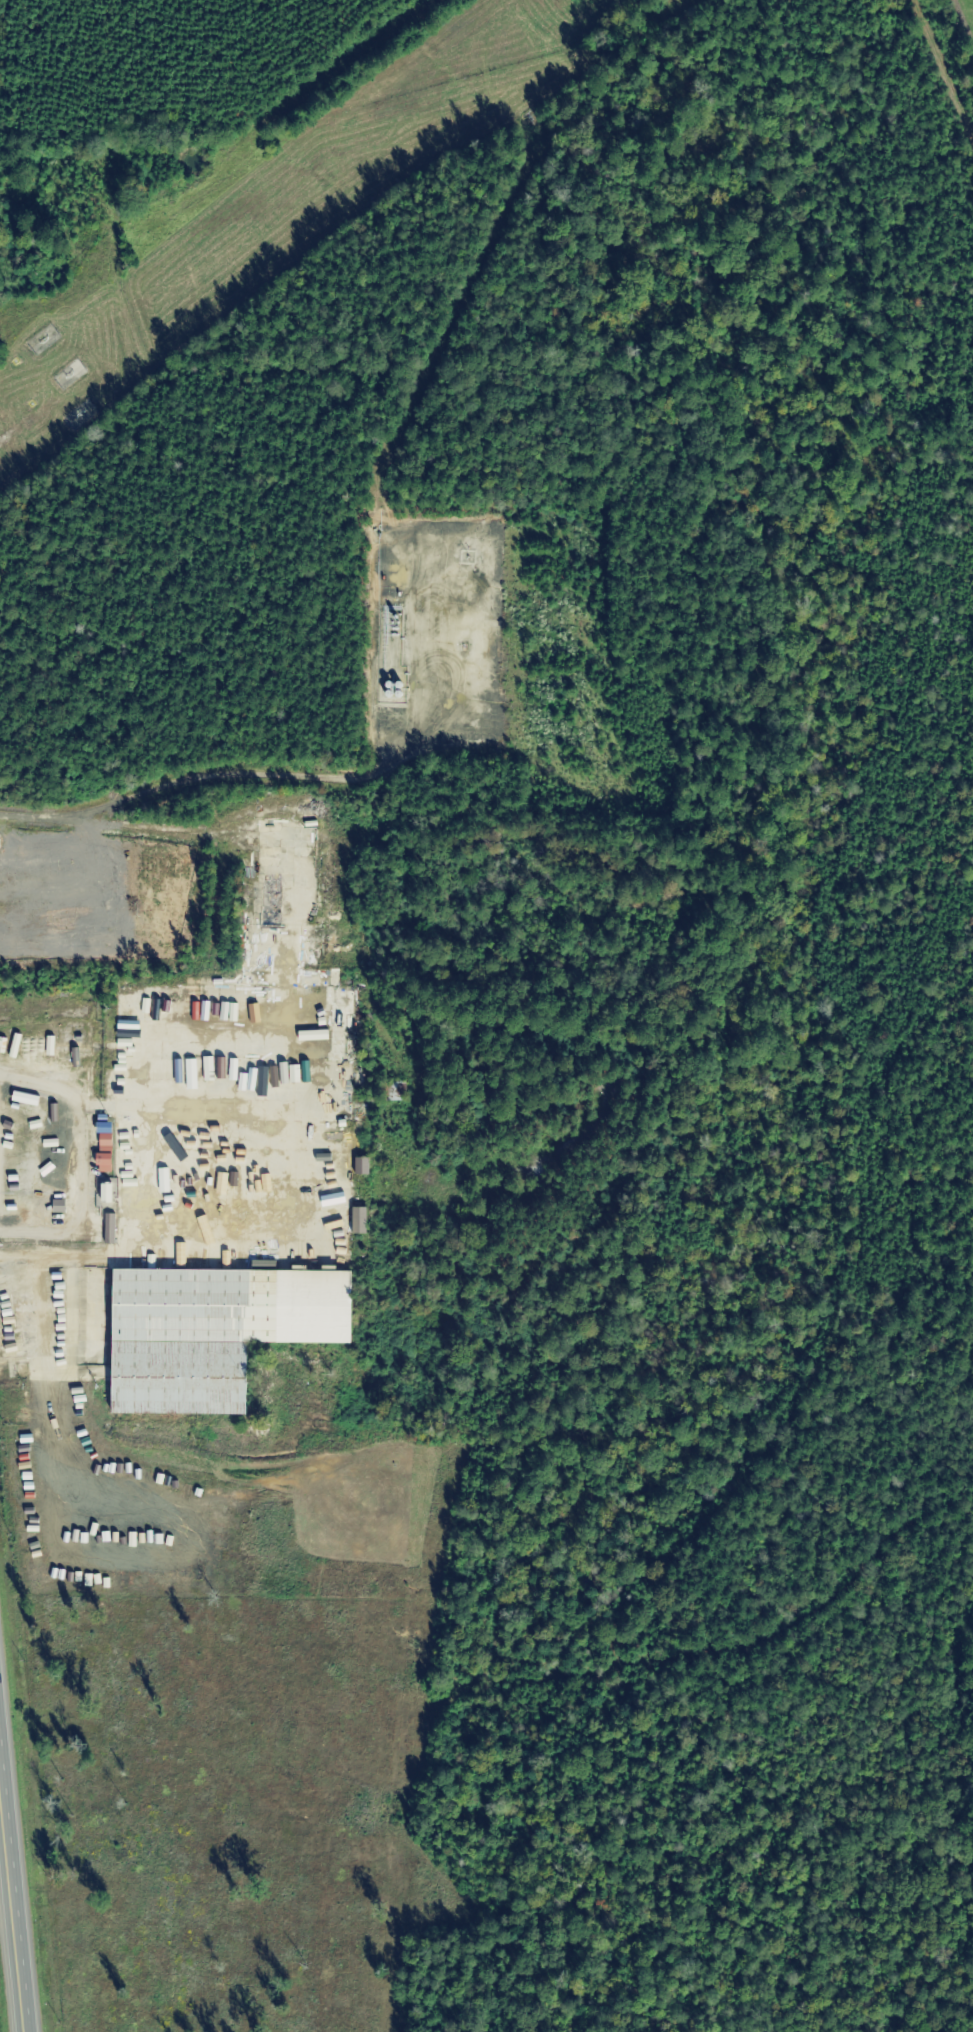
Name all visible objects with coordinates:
railway: (939, 79)
building: (388, 691)
building: (222, 1175)
road: (11, 1919)

